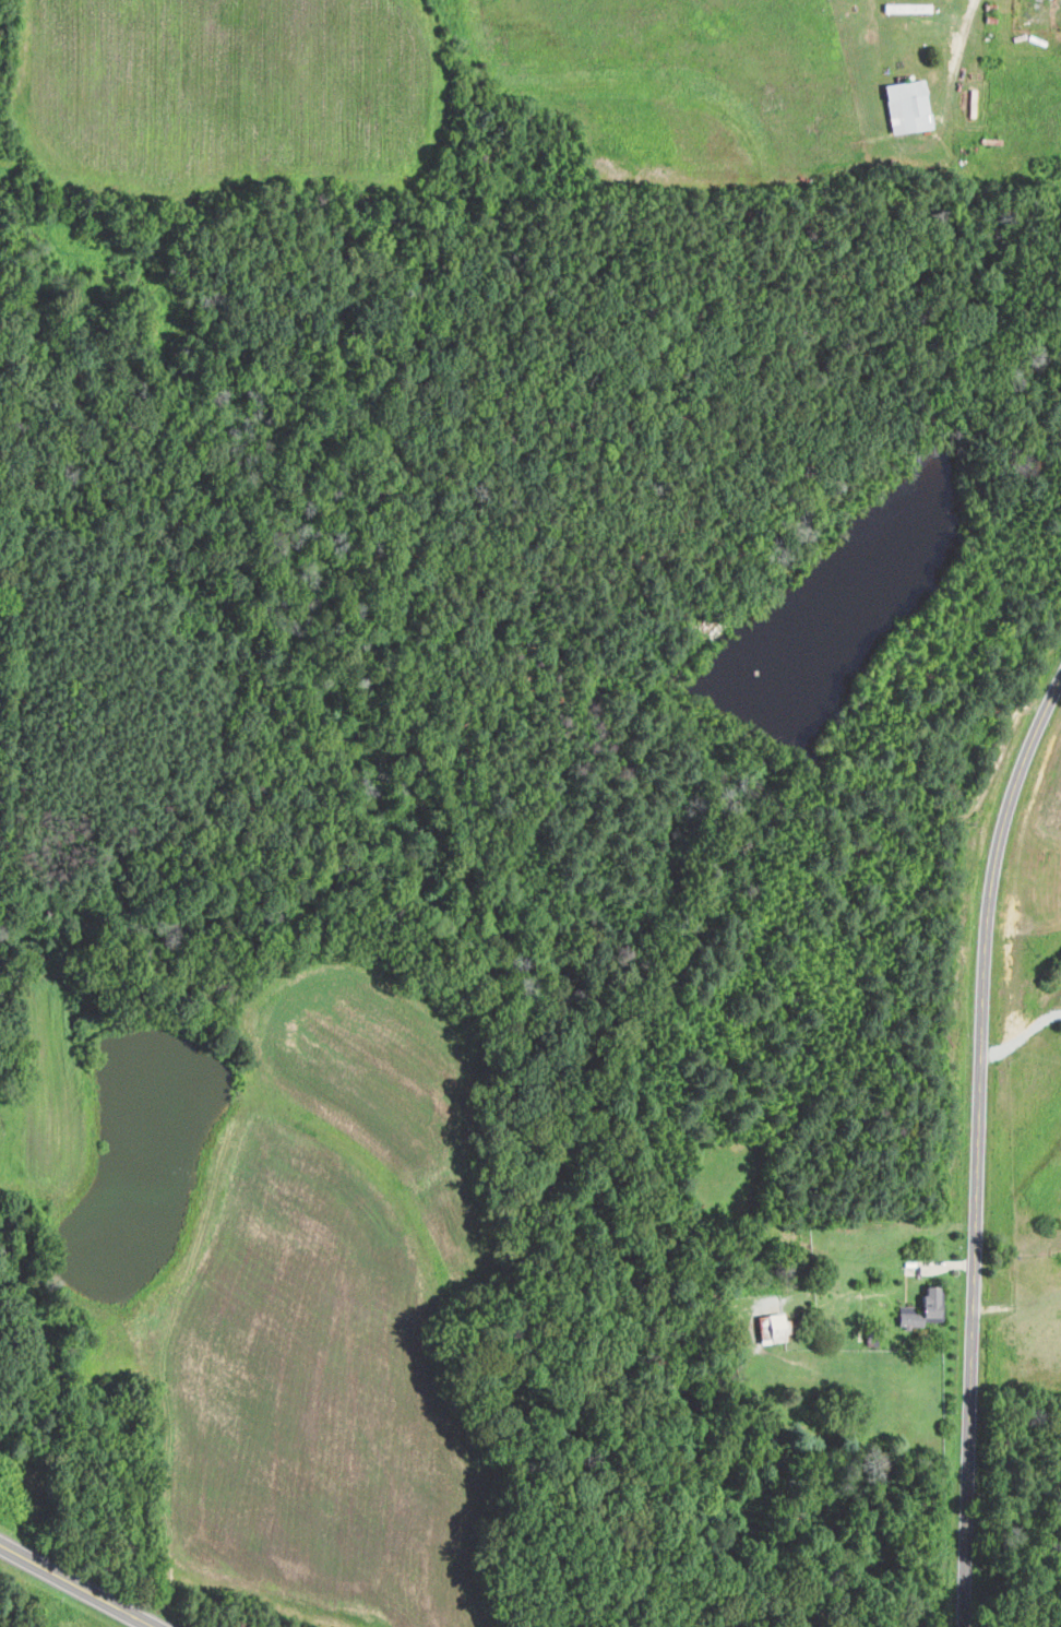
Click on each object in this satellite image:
building: (904, 8)
building: (904, 106)
road: (1022, 1035)
road: (977, 1143)
building: (920, 1308)
building: (770, 1327)
road: (79, 1583)

